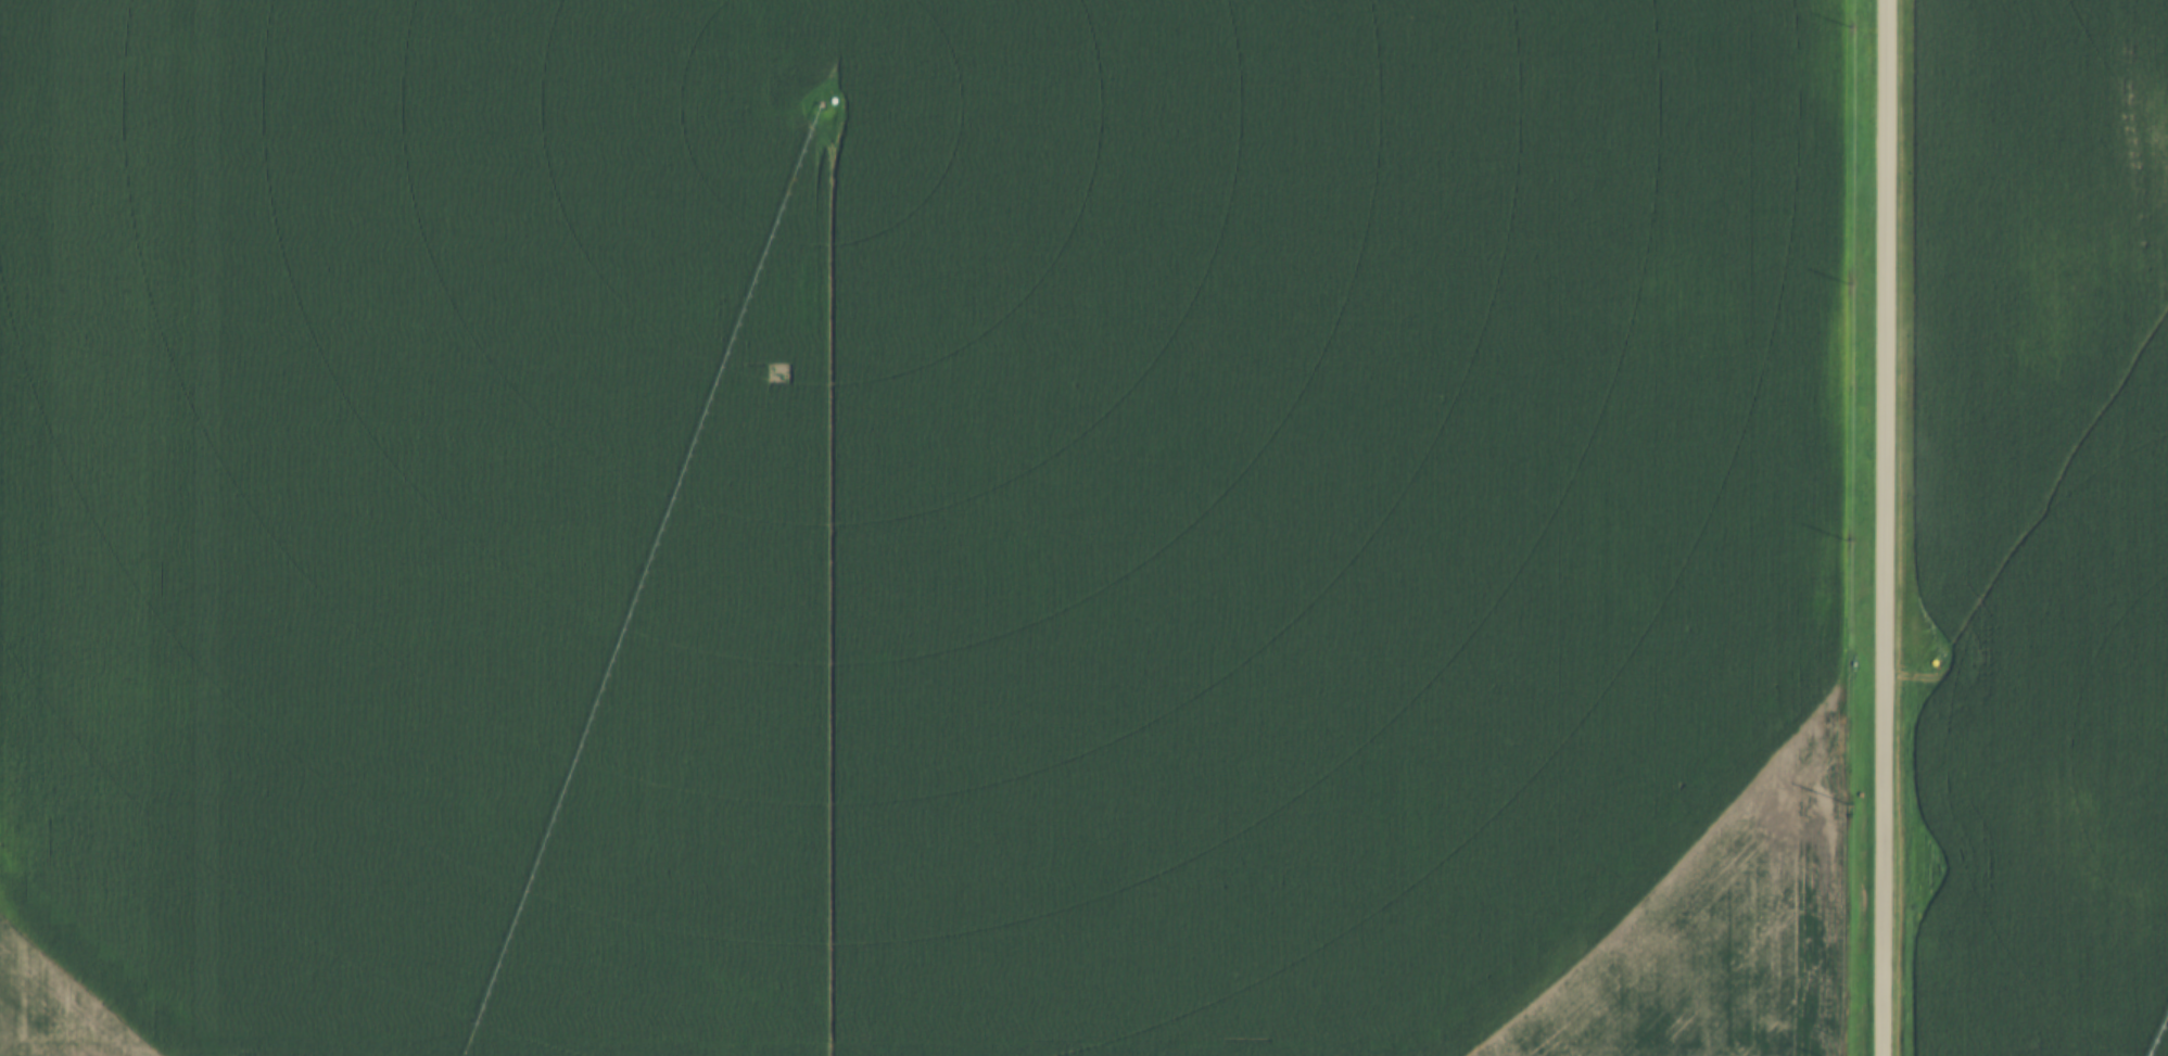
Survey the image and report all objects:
road: (1887, 527)

